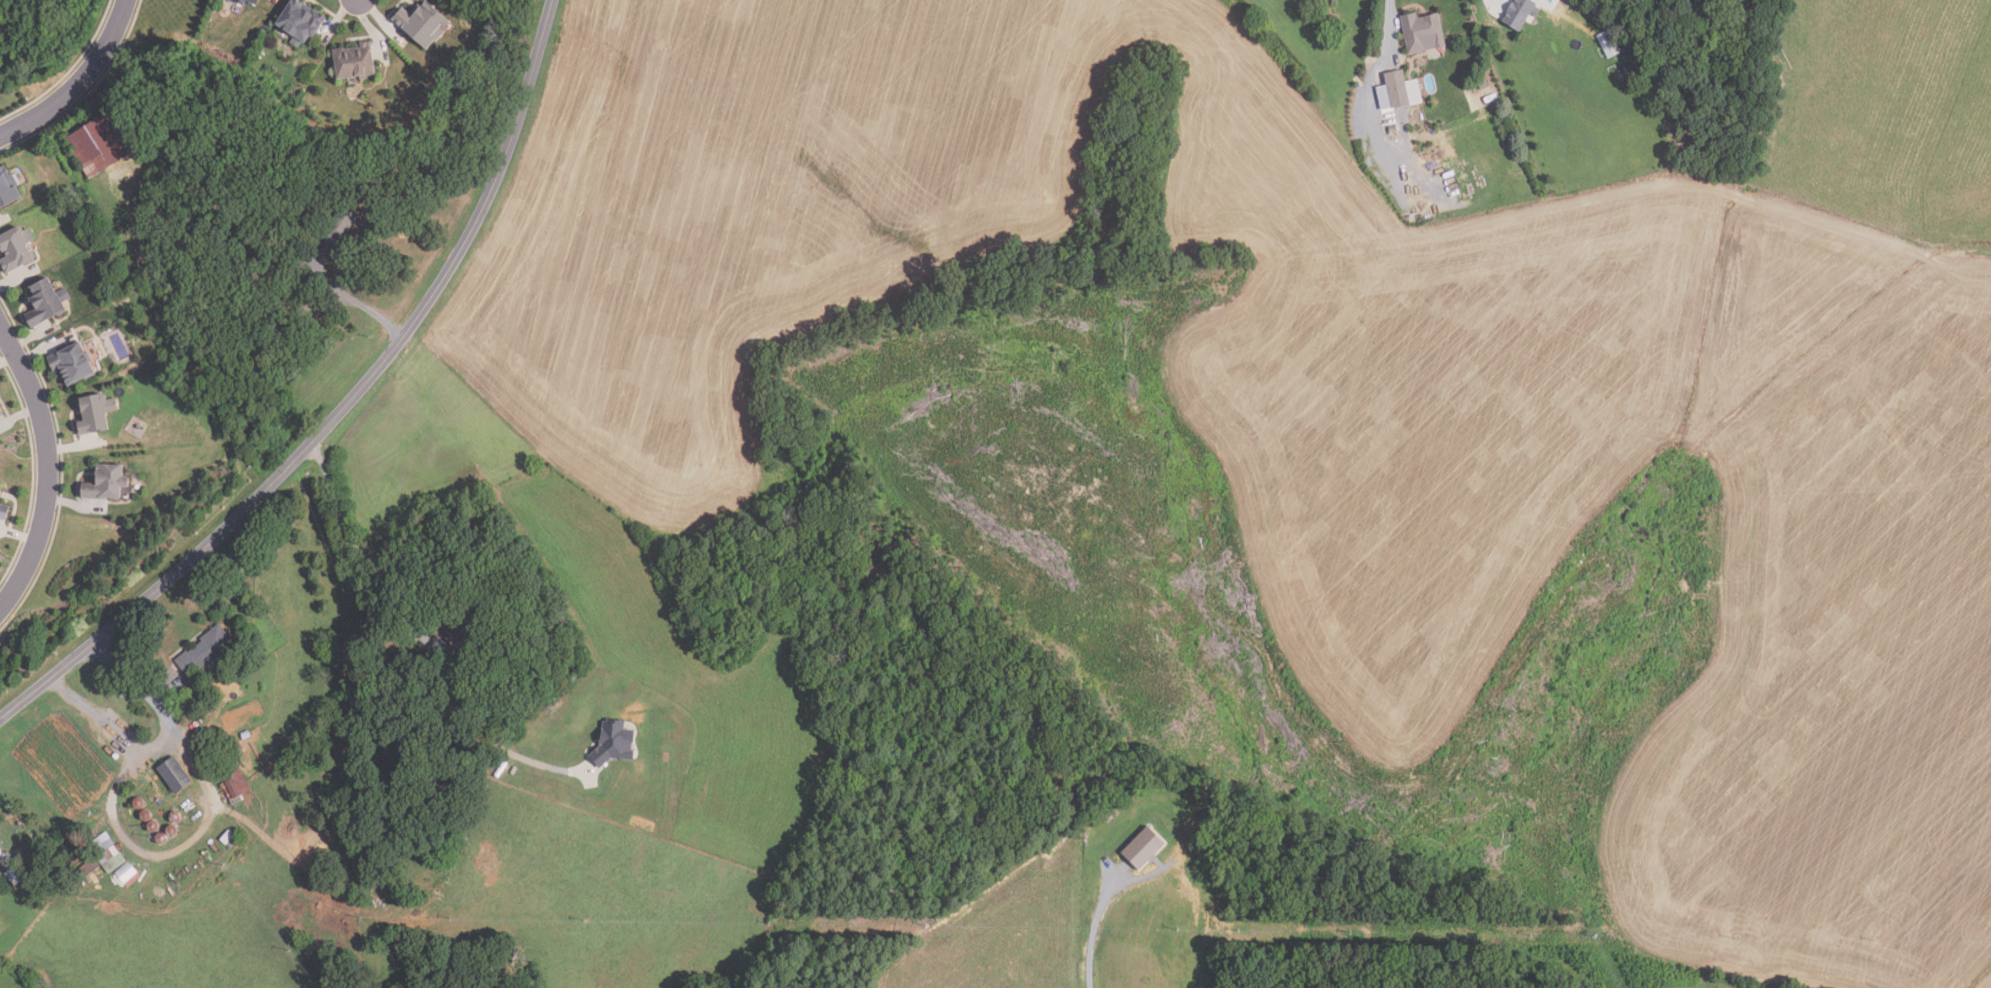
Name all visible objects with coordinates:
building: (252, 2)
building: (1518, 11)
building: (1597, 11)
building: (300, 20)
building: (424, 24)
road: (1384, 27)
building: (1424, 33)
building: (1610, 44)
building: (354, 62)
road: (79, 83)
building: (1400, 91)
building: (103, 144)
building: (8, 188)
building: (279, 229)
building: (338, 231)
building: (18, 249)
building: (283, 284)
road: (356, 302)
building: (48, 304)
building: (74, 364)
road: (343, 407)
building: (2, 413)
building: (96, 414)
road: (47, 465)
building: (107, 483)
building: (0, 484)
building: (0, 493)
building: (4, 512)
road: (350, 540)
building: (460, 629)
building: (204, 651)
building: (489, 704)
building: (616, 741)
road: (159, 743)
building: (174, 776)
building: (235, 784)
building: (138, 803)
silo: (138, 803)
building: (146, 814)
silo: (146, 814)
building: (176, 817)
silo: (176, 817)
building: (153, 826)
silo: (153, 826)
building: (172, 830)
silo: (172, 830)
building: (161, 838)
silo: (161, 838)
building: (228, 838)
building: (1146, 847)
building: (107, 852)
road: (4, 863)
building: (32, 870)
building: (83, 872)
building: (129, 874)
building: (15, 875)
road: (1094, 923)

